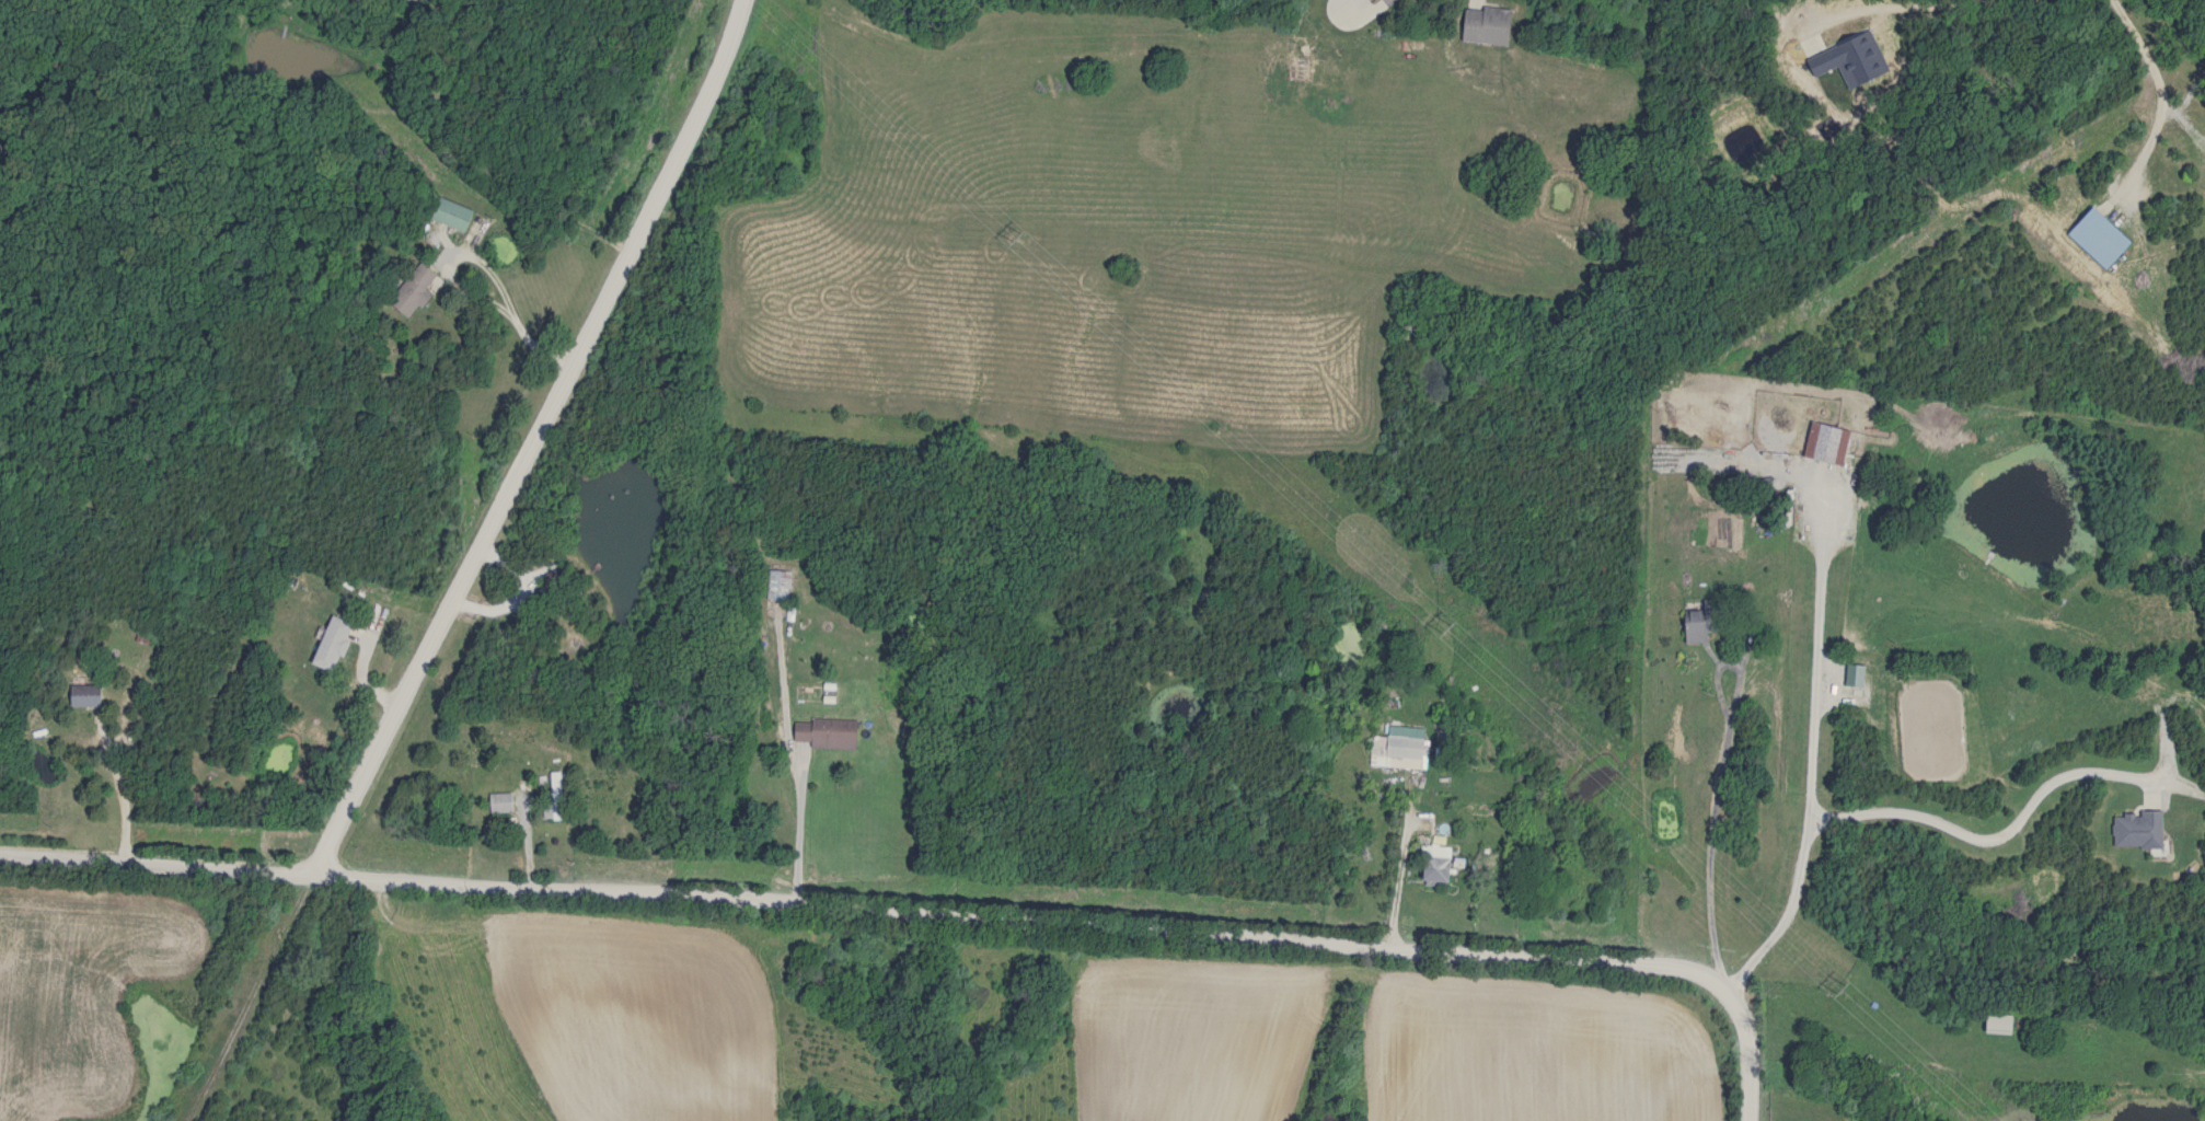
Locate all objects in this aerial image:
road: (1887, 4)
road: (1361, 10)
building: (1490, 25)
road: (2156, 86)
building: (455, 216)
power tower: (1019, 235)
building: (2102, 238)
road: (483, 266)
building: (415, 289)
road: (530, 438)
building: (1828, 442)
building: (778, 585)
building: (1707, 620)
power tower: (1445, 622)
building: (336, 643)
building: (90, 695)
building: (829, 732)
building: (1406, 753)
road: (1811, 759)
building: (556, 795)
building: (503, 802)
road: (797, 825)
road: (1996, 833)
road: (1711, 847)
building: (1441, 864)
road: (859, 905)
power tower: (1840, 985)
road: (1747, 1044)

